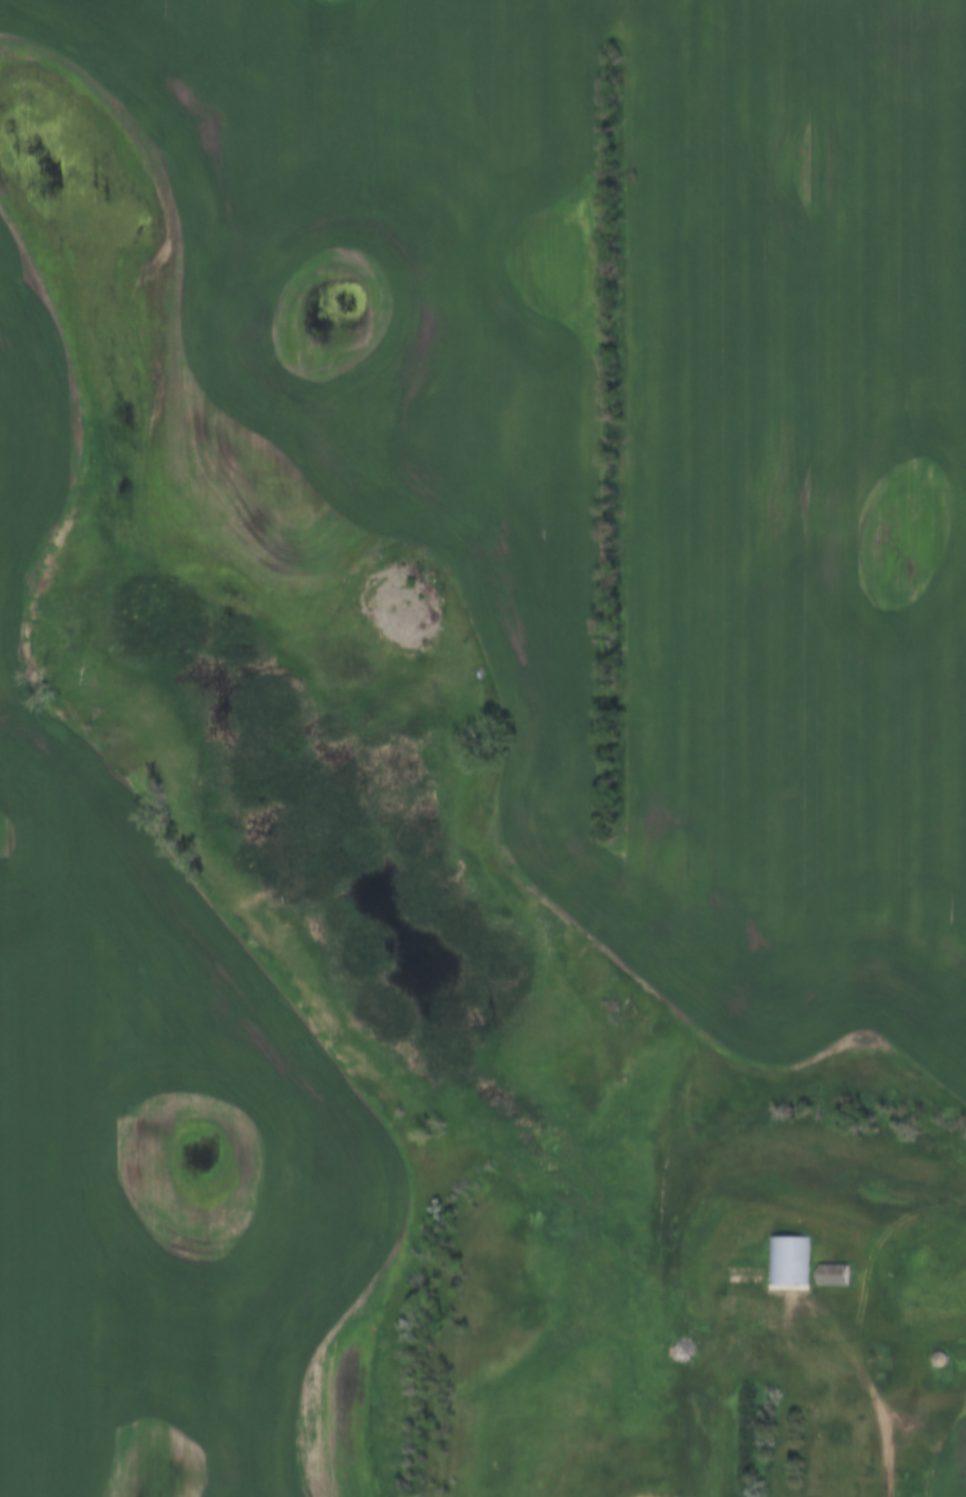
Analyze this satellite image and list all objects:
building: (786, 1261)
building: (835, 1275)
building: (939, 1359)
road: (885, 1424)

